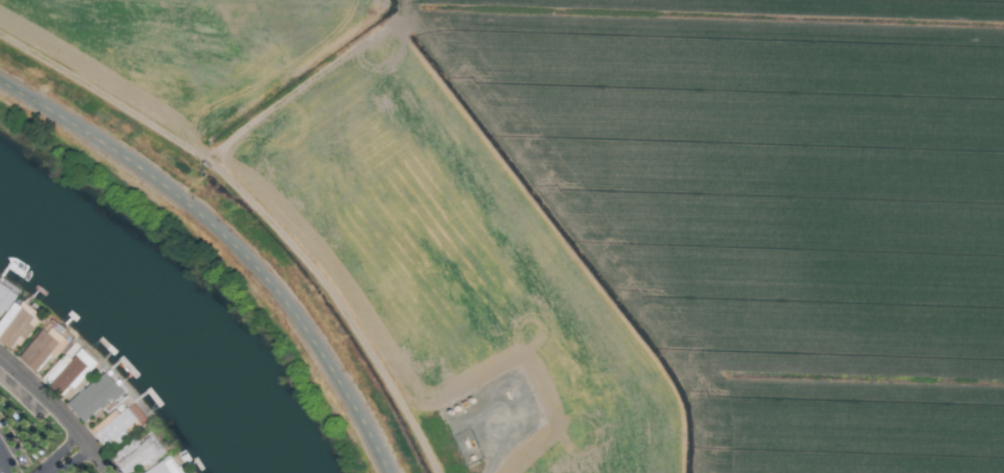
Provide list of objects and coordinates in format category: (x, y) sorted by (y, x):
crop: (599, 213)
road: (227, 244)
building: (5, 298)
building: (16, 326)
building: (43, 349)
building: (69, 372)
building: (95, 397)
road: (56, 414)
building: (115, 427)
road: (55, 452)
building: (137, 455)
road: (4, 466)
road: (50, 467)
building: (165, 467)

